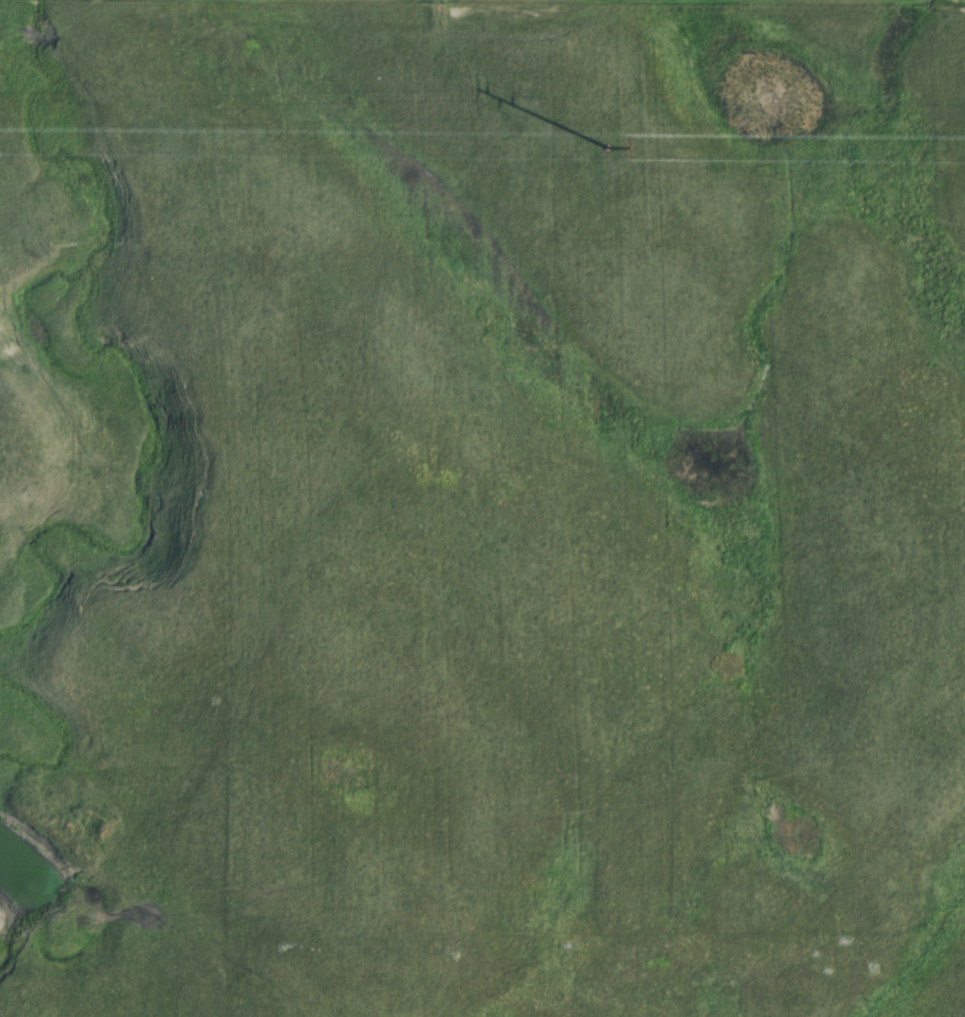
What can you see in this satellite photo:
power tower: (615, 143)

